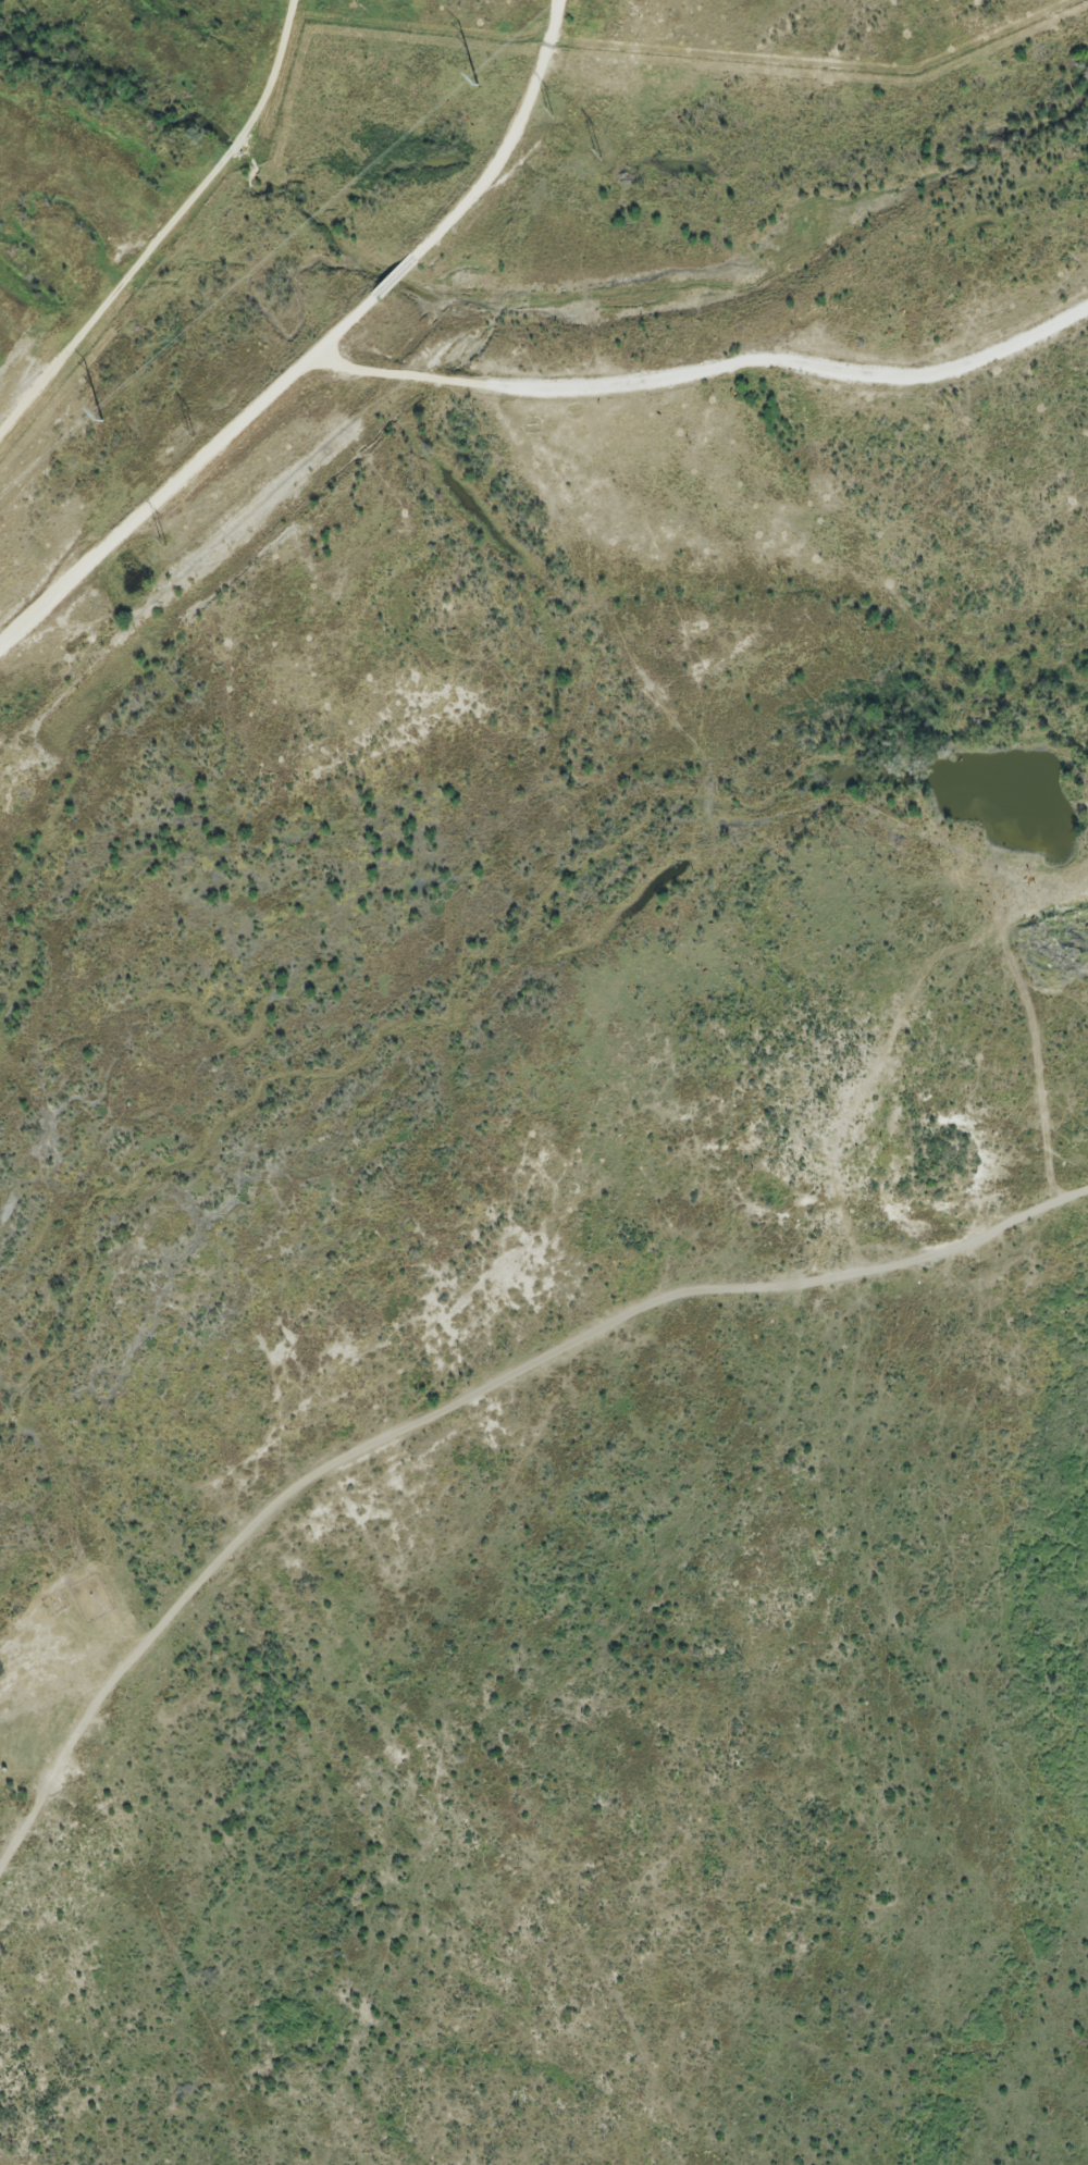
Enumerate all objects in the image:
power tower: (478, 87)
power tower: (552, 110)
power tower: (596, 151)
road: (477, 373)
power tower: (101, 421)
power tower: (203, 424)
road: (145, 483)
power tower: (162, 543)

